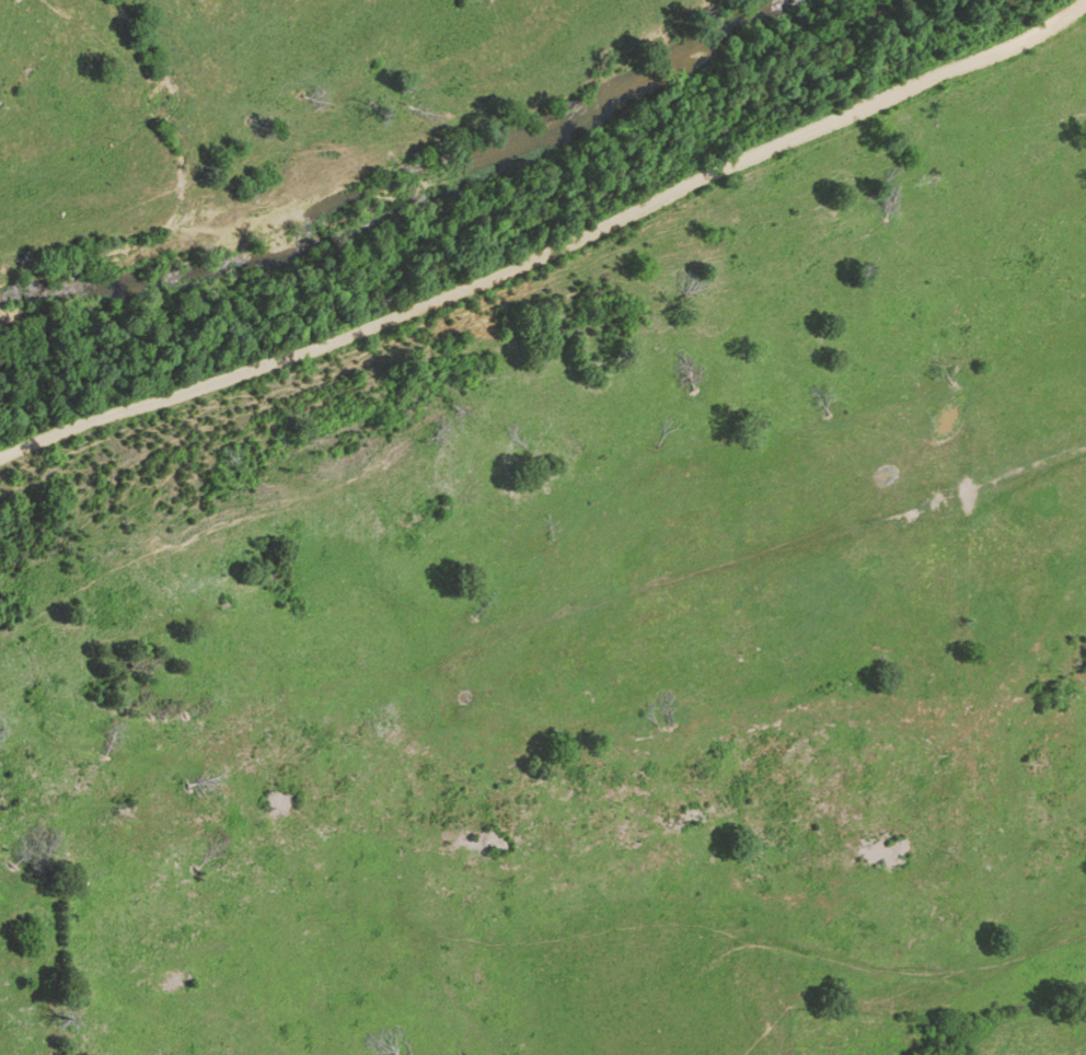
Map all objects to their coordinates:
road: (557, 274)

